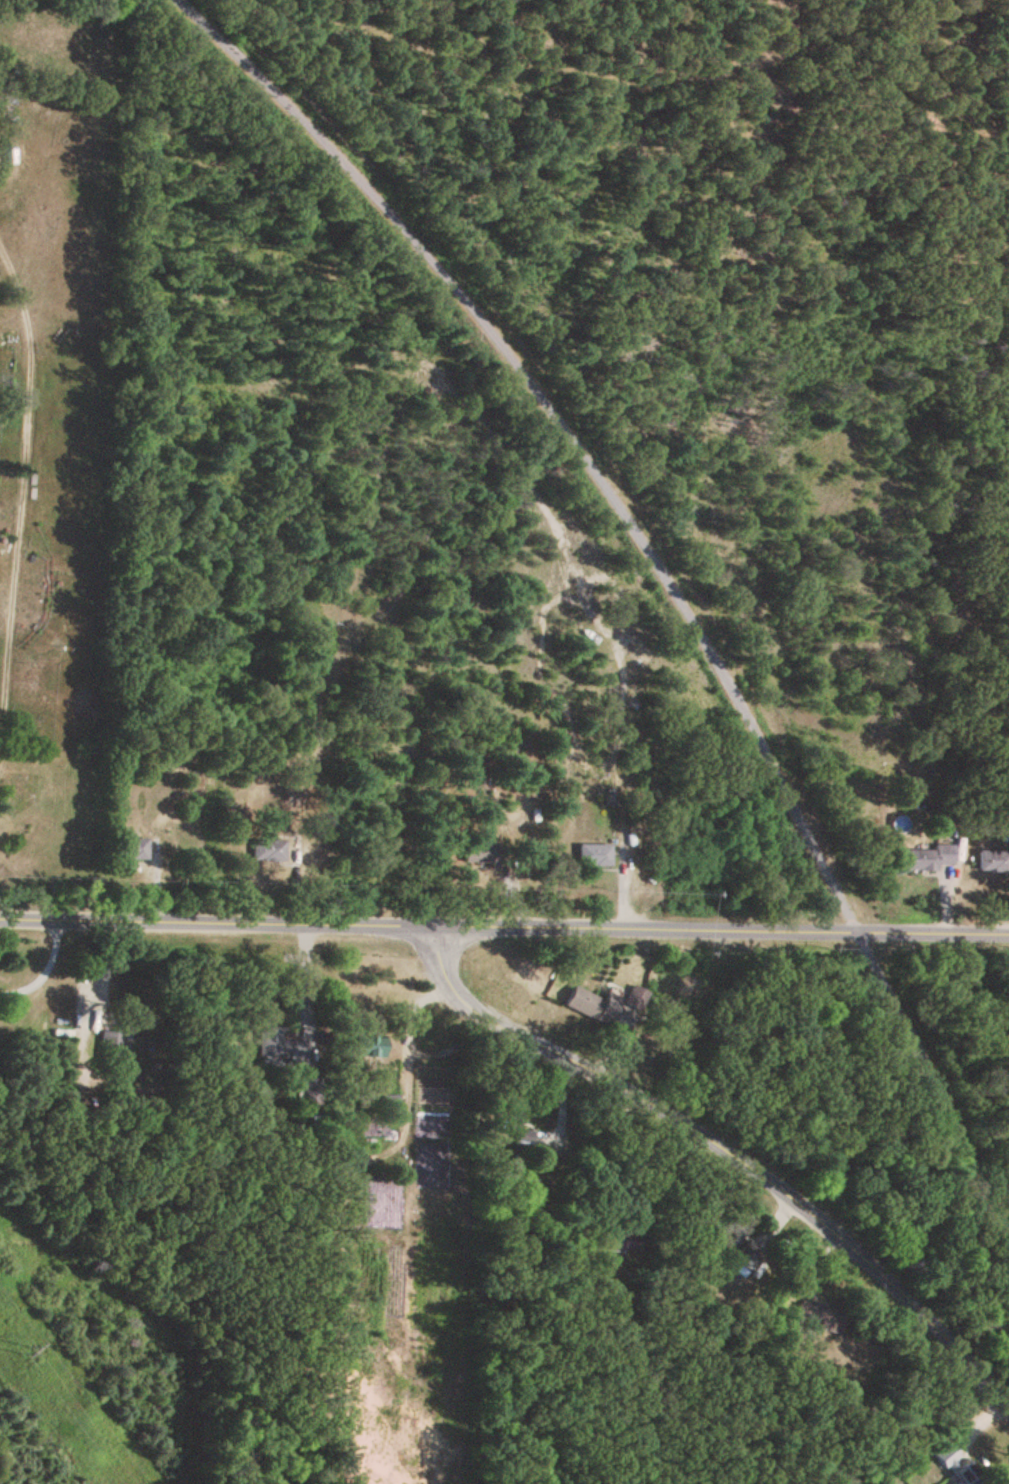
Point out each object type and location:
road: (657, 564)
building: (136, 852)
building: (268, 853)
building: (595, 857)
building: (931, 860)
building: (993, 863)
road: (2, 917)
road: (350, 928)
road: (780, 934)
road: (934, 936)
road: (42, 969)
building: (606, 1005)
road: (448, 1043)
road: (405, 1049)
building: (507, 1114)
road: (726, 1154)
building: (818, 1316)
power tower: (22, 1347)
building: (953, 1467)

